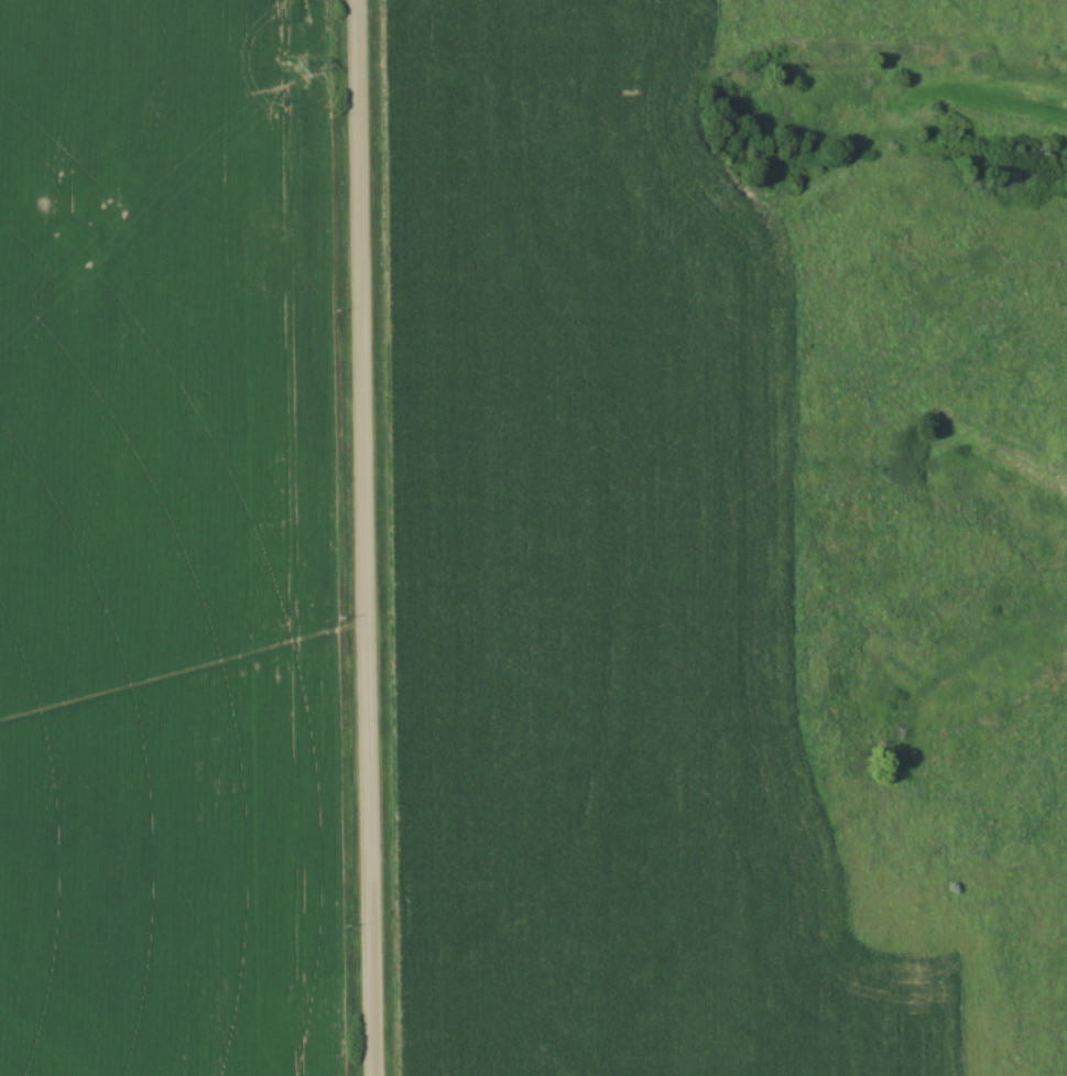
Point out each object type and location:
power tower: (298, 70)
road: (360, 537)

